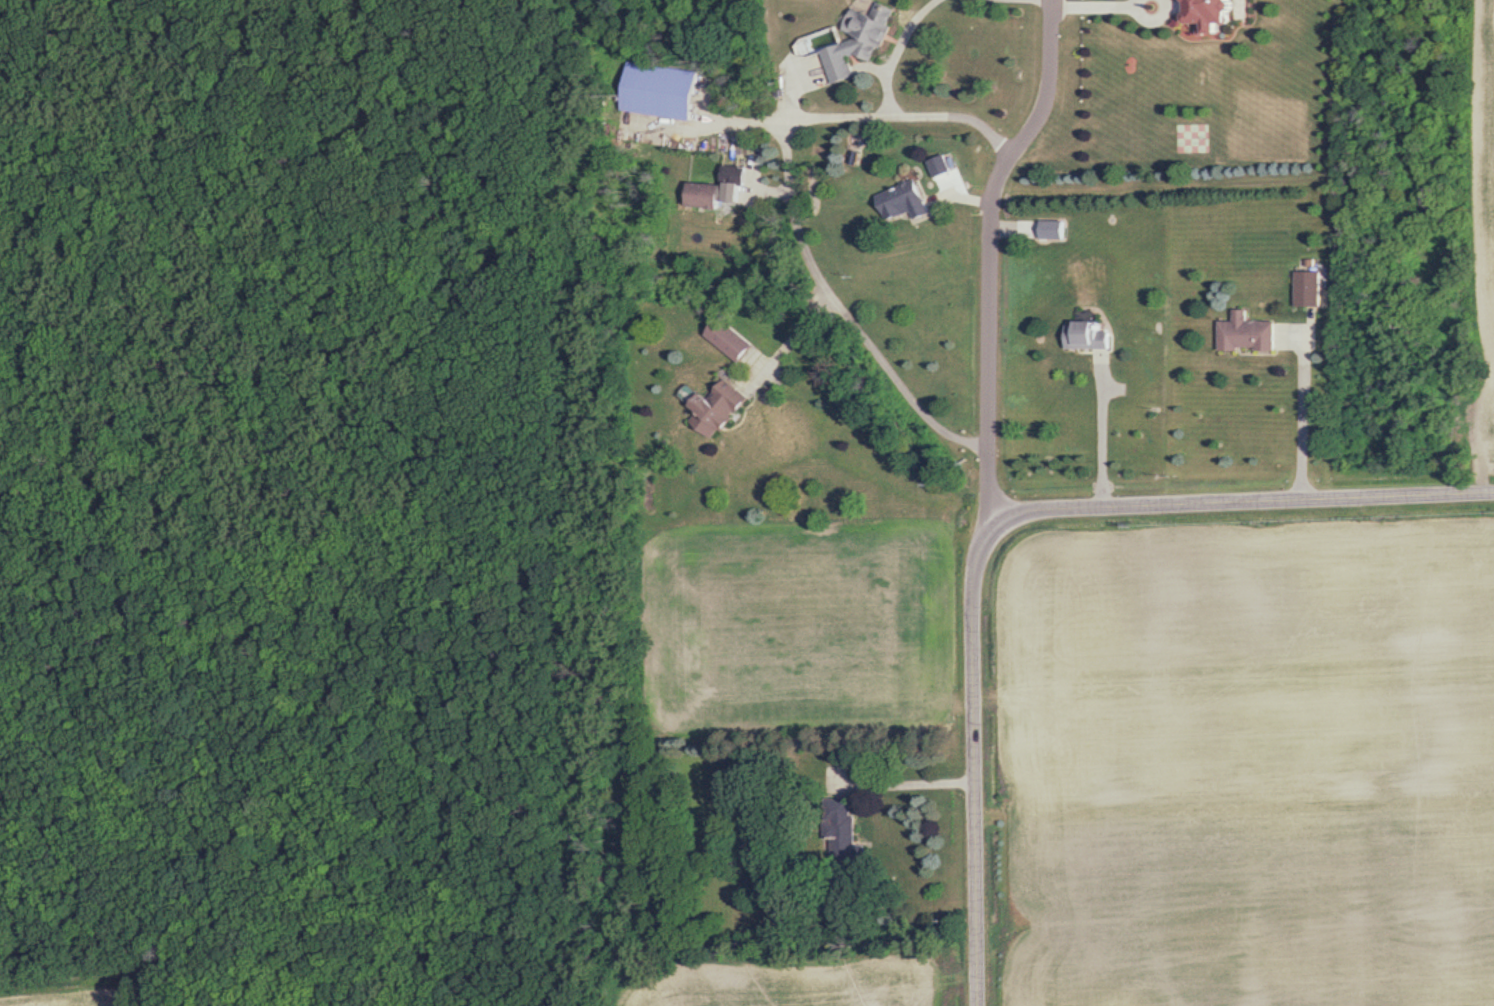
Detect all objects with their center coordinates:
road: (1131, 1)
road: (1081, 2)
building: (1216, 14)
road: (1150, 15)
building: (863, 43)
road: (896, 51)
building: (670, 86)
building: (1190, 137)
building: (725, 189)
building: (908, 202)
road: (791, 205)
building: (1054, 230)
road: (970, 260)
building: (1311, 288)
building: (1249, 334)
road: (794, 337)
building: (1089, 337)
building: (737, 342)
building: (723, 410)
road: (1301, 411)
road: (1100, 433)
road: (1000, 518)
road: (907, 780)
building: (843, 836)

